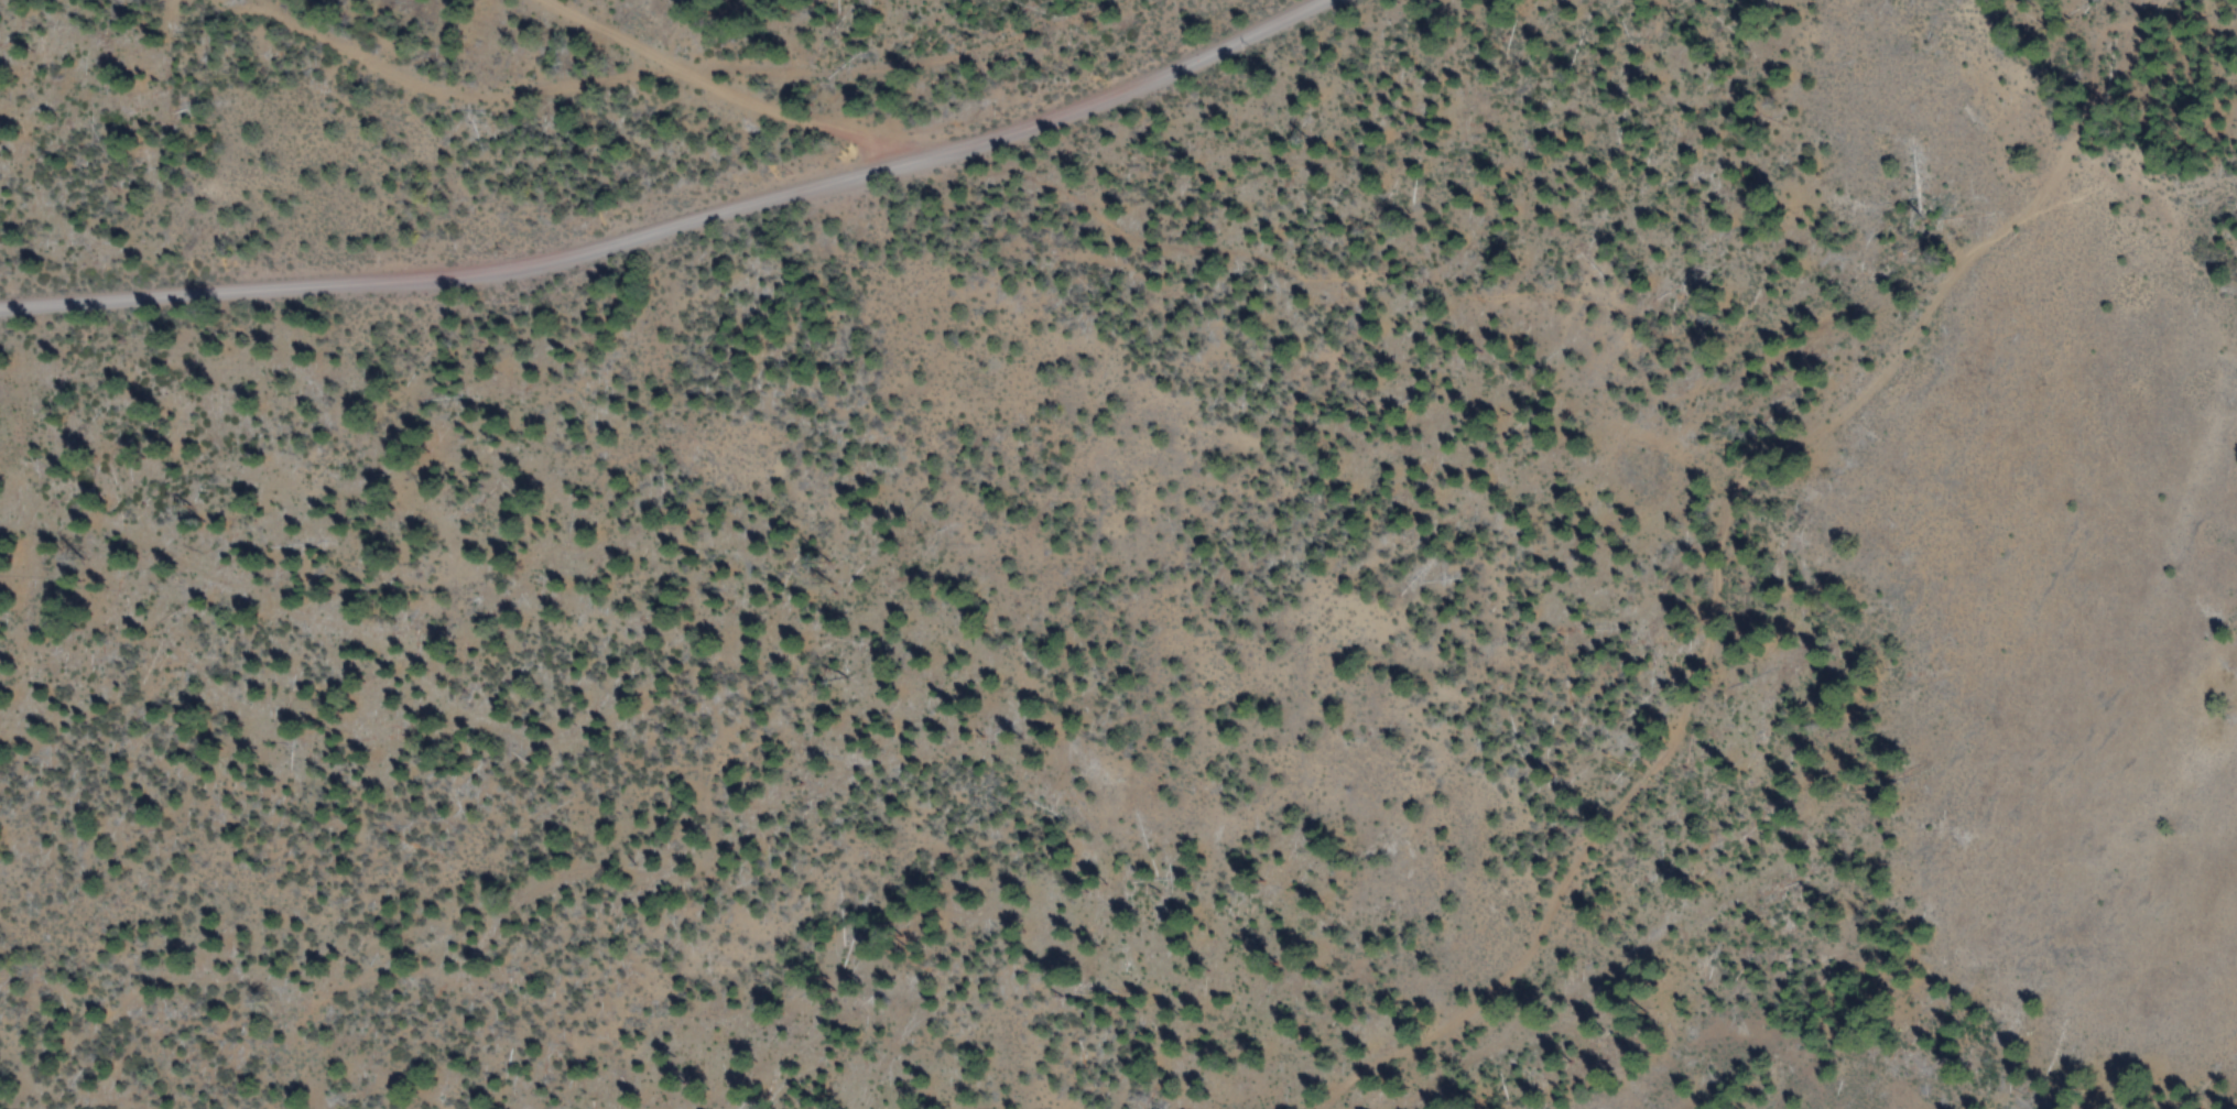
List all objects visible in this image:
road: (610, 31)
road: (672, 64)
road: (816, 123)
road: (682, 222)
road: (1718, 548)
road: (978, 732)

